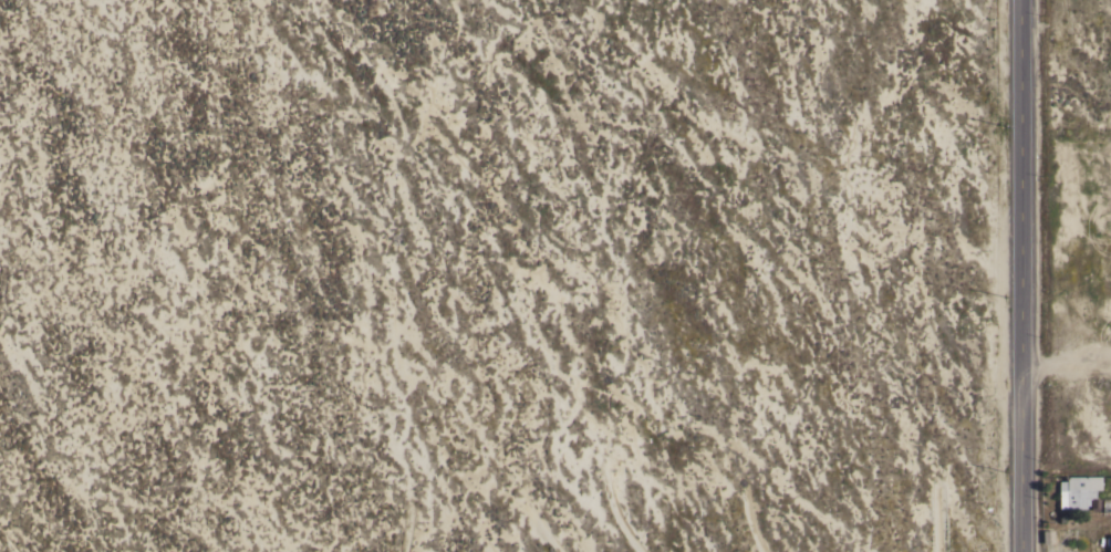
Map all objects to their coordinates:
road: (1026, 275)
road: (1069, 369)
building: (1079, 493)
building: (1110, 543)

